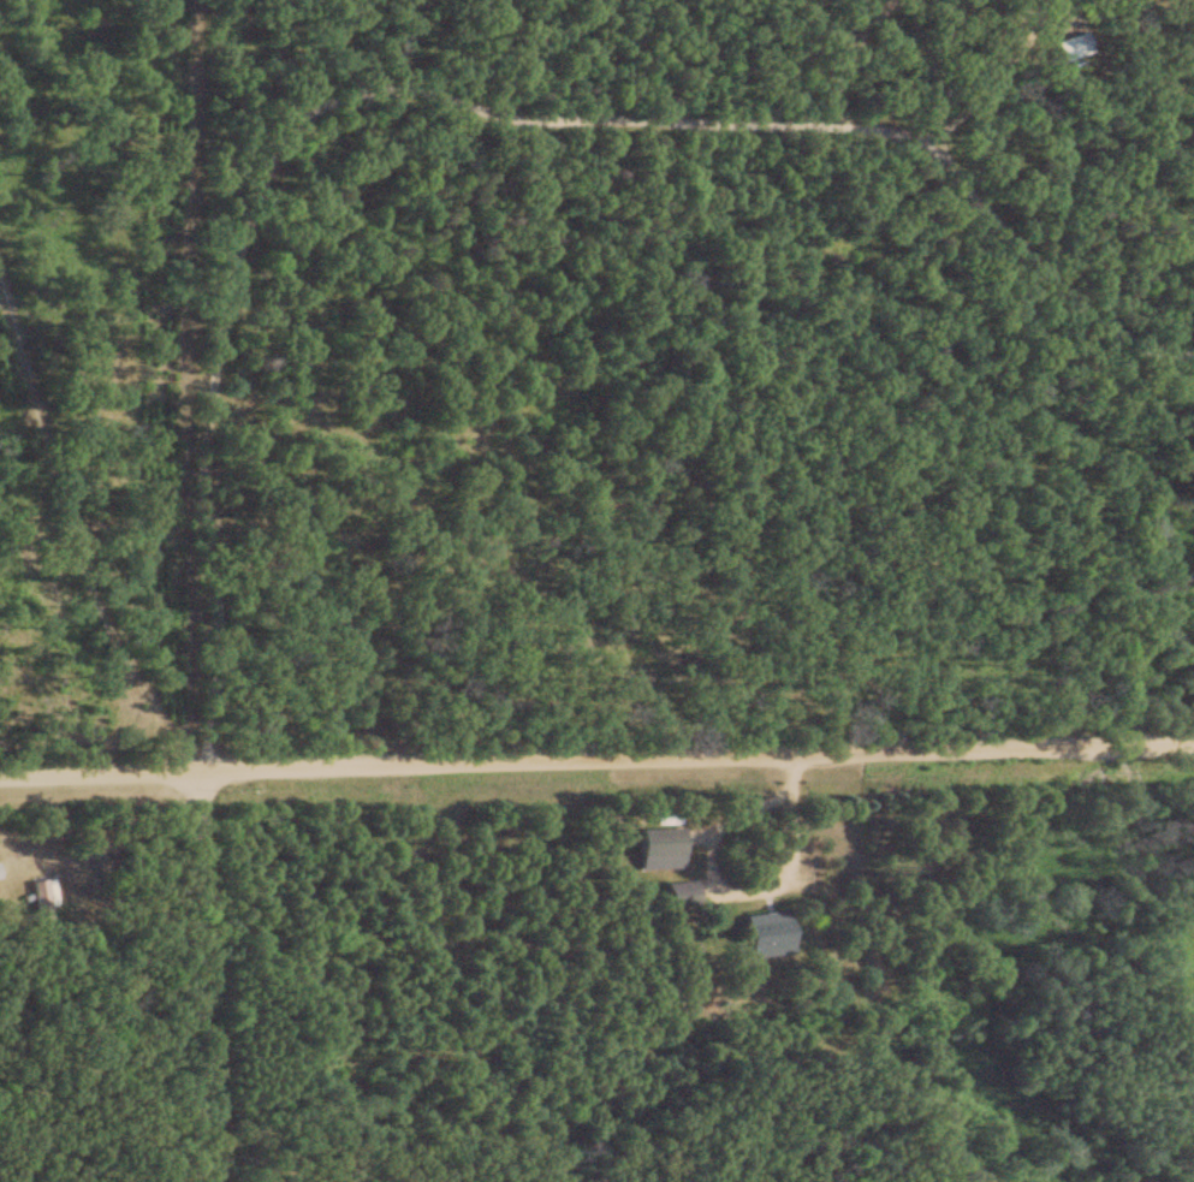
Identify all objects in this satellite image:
building: (1077, 47)
road: (501, 101)
road: (206, 374)
road: (596, 760)
building: (655, 848)
building: (760, 934)
road: (197, 976)

